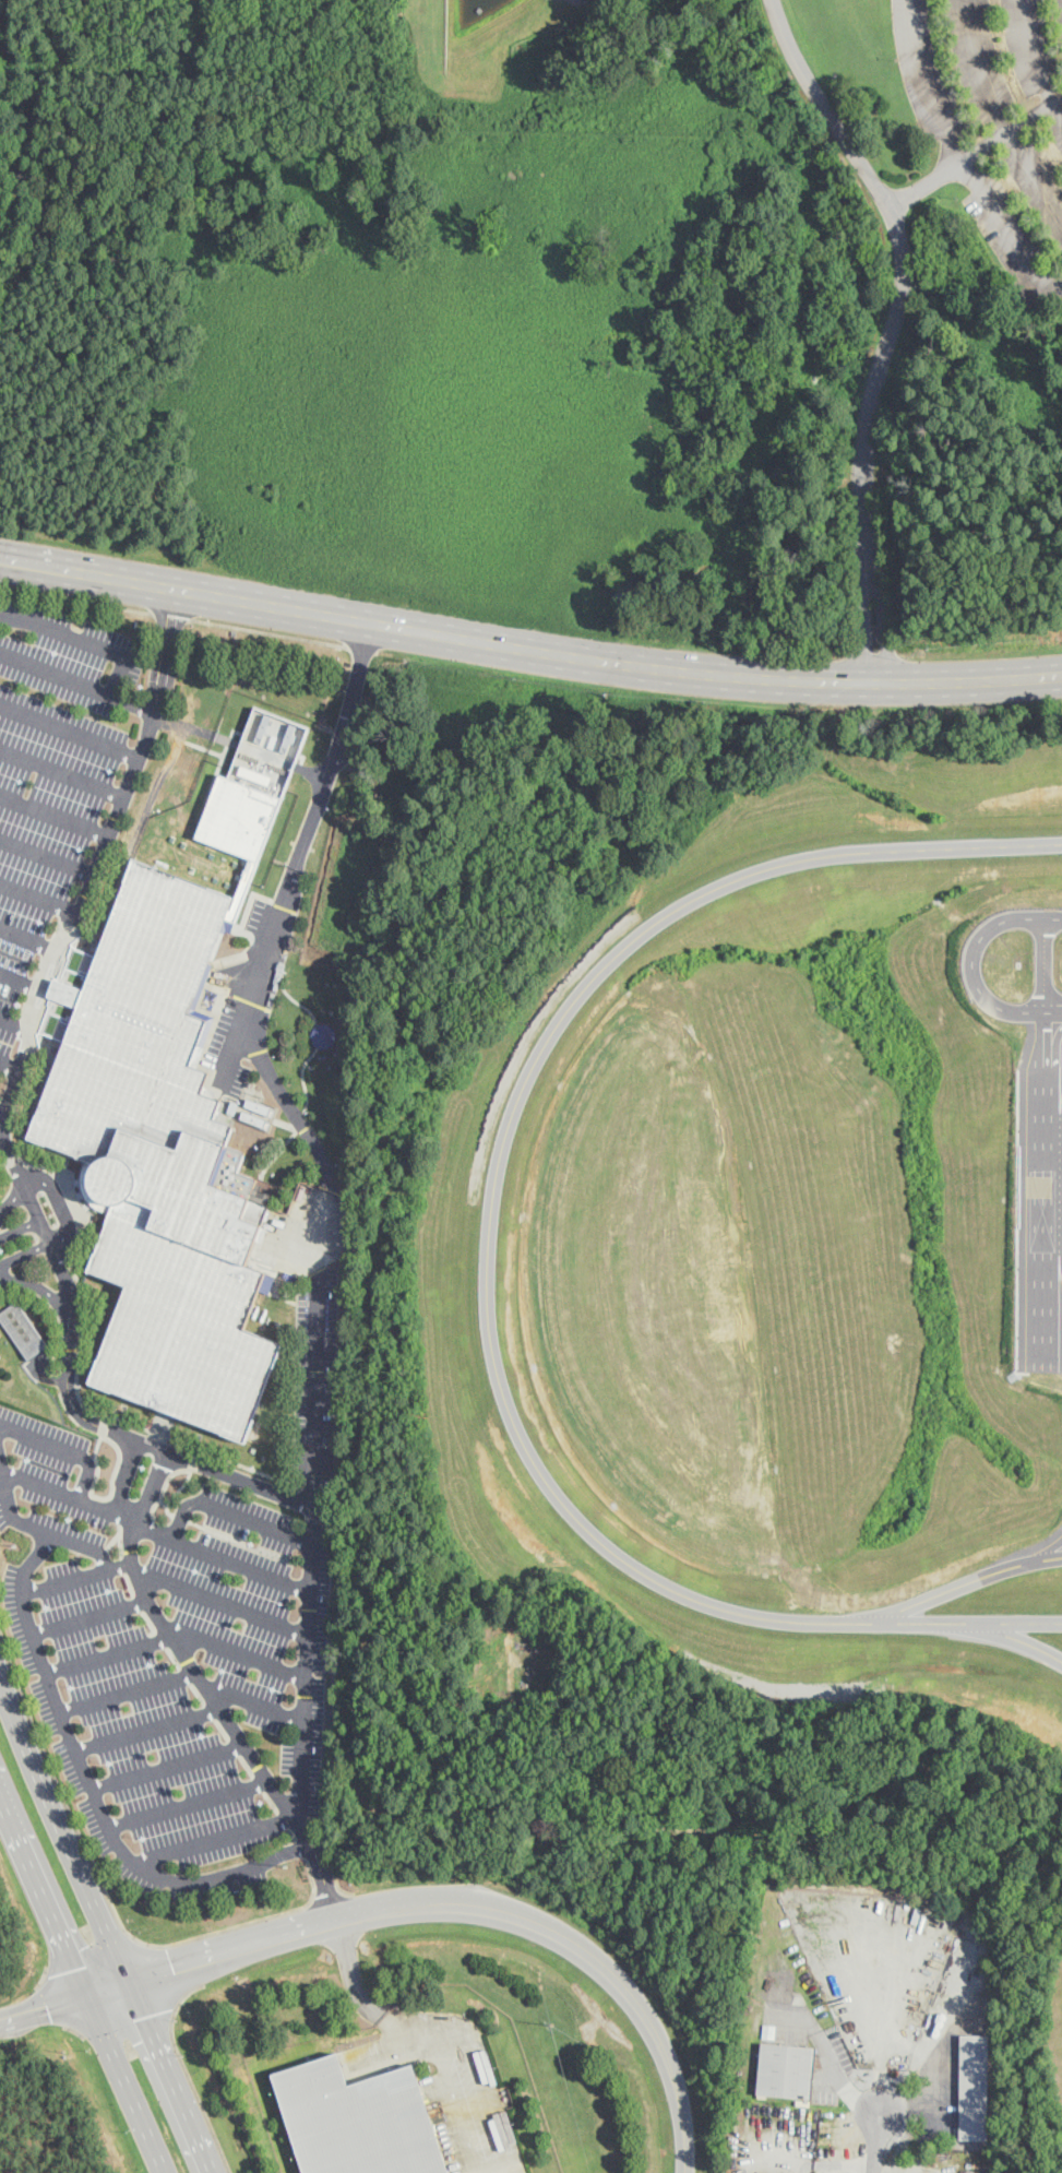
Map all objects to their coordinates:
road: (1033, 60)
road: (1002, 114)
road: (1011, 127)
road: (960, 161)
road: (926, 182)
road: (894, 324)
road: (76, 596)
road: (170, 615)
road: (269, 631)
road: (82, 637)
road: (355, 646)
road: (528, 648)
road: (77, 679)
road: (70, 732)
road: (165, 769)
road: (62, 773)
building: (254, 773)
parking lot: (60, 781)
road: (56, 814)
road: (48, 859)
road: (40, 898)
building: (238, 898)
road: (27, 938)
road: (971, 963)
road: (17, 982)
road: (1047, 1010)
road: (13, 1022)
building: (323, 1034)
road: (260, 1046)
road: (8, 1068)
building: (232, 1106)
building: (260, 1106)
road: (2, 1107)
road: (3, 1117)
building: (255, 1118)
building: (158, 1157)
road: (27, 1184)
road: (20, 1224)
road: (47, 1242)
road: (486, 1249)
road: (40, 1286)
building: (24, 1331)
road: (61, 1448)
road: (122, 1474)
road: (154, 1486)
road: (234, 1510)
road: (152, 1527)
road: (48, 1530)
power tower: (15, 1545)
road: (1050, 1547)
road: (76, 1575)
road: (964, 1581)
road: (220, 1601)
road: (90, 1616)
road: (174, 1635)
road: (1014, 1636)
road: (302, 1646)
road: (128, 1689)
road: (254, 1703)
road: (229, 1717)
road: (148, 1729)
road: (168, 1765)
road: (88, 1786)
road: (189, 1802)
road: (63, 1821)
road: (215, 1836)
power tower: (288, 1866)
road: (342, 1888)
road: (40, 1890)
road: (107, 1891)
road: (326, 1895)
road: (416, 1903)
road: (88, 1954)
traffic signals: (73, 1968)
traffic signals: (174, 1969)
road: (164, 1974)
road: (41, 1975)
road: (52, 2000)
road: (368, 2004)
traffic signals: (49, 2006)
traffic signals: (145, 2015)
power tower: (549, 2022)
road: (129, 2024)
road: (74, 2029)
building: (787, 2071)
road: (188, 2074)
road: (172, 2077)
building: (738, 2081)
road: (126, 2083)
building: (975, 2088)
road: (848, 2092)
road: (928, 2095)
road: (487, 2100)
road: (456, 2115)
building: (358, 2121)
road: (875, 2139)
road: (830, 2162)
road: (908, 2168)
road: (496, 2172)

